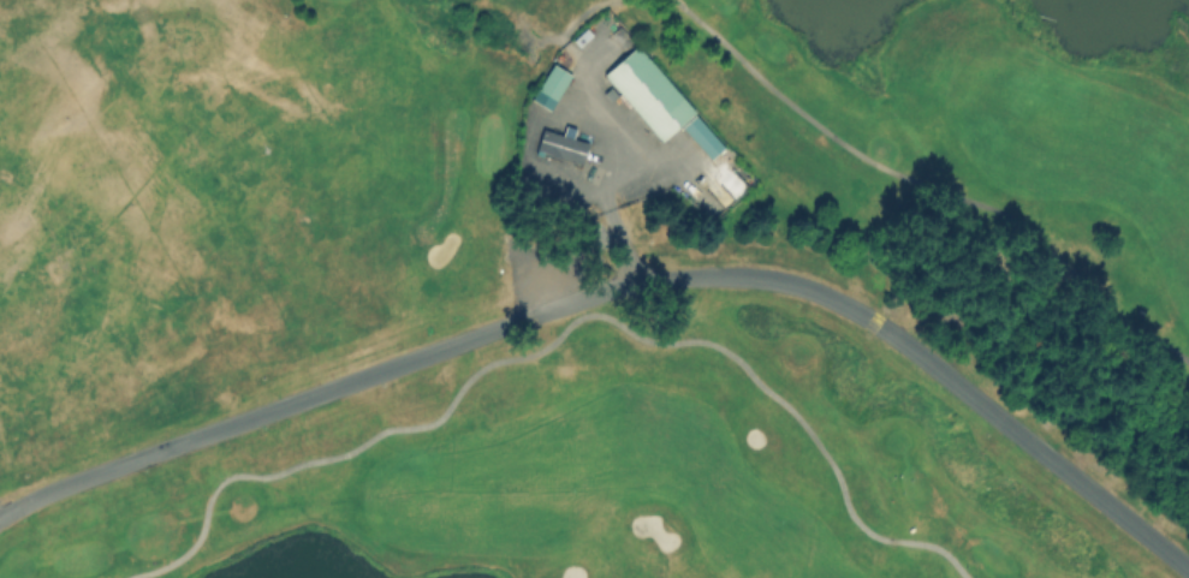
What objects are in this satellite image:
building: (552, 81)
building: (647, 90)
building: (701, 136)
building: (560, 143)
road: (607, 180)
road: (934, 184)
road: (622, 286)
park: (594, 288)
road: (559, 330)

